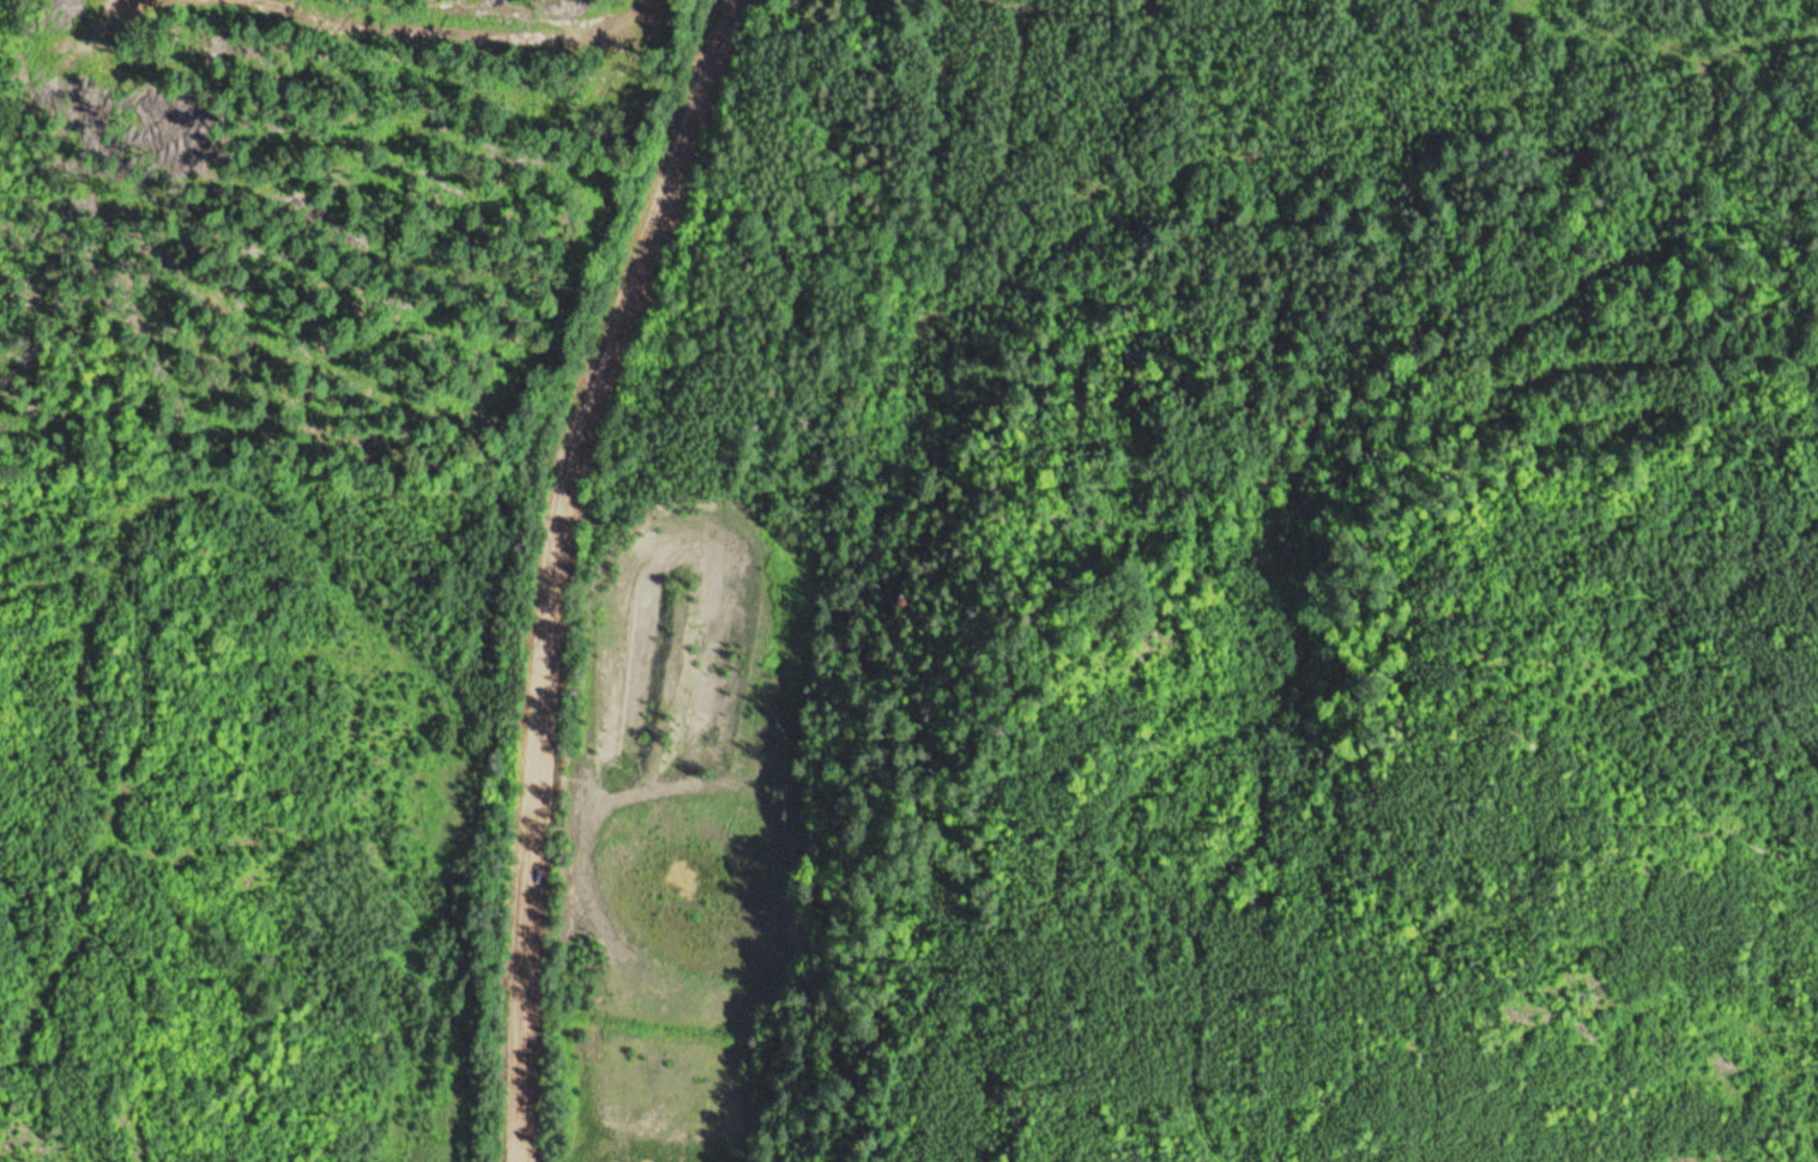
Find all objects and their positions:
road: (558, 567)

